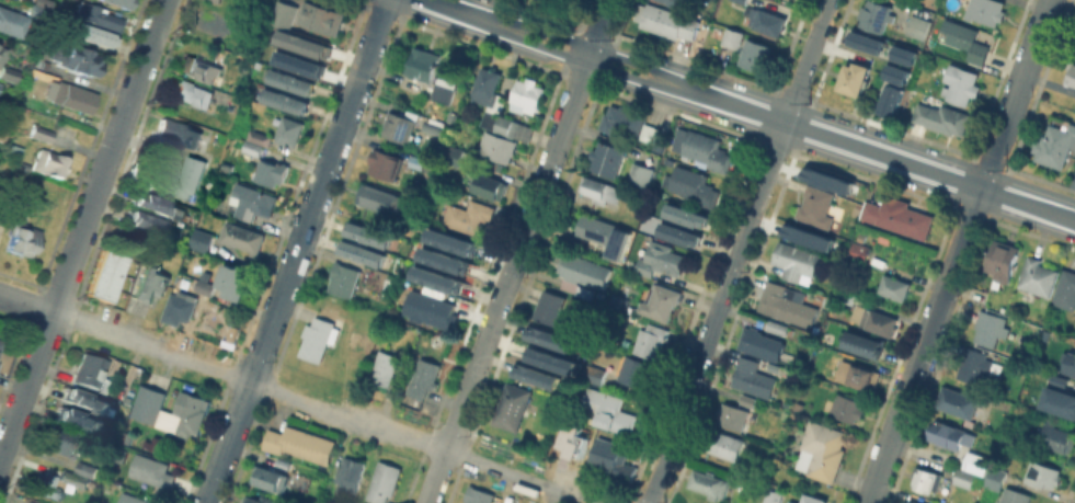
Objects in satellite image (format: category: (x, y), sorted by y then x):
building: (216, 0)
building: (219, 0)
building: (561, 0)
building: (570, 0)
building: (743, 1)
building: (123, 2)
building: (673, 2)
building: (37, 7)
building: (986, 11)
building: (285, 13)
building: (99, 15)
building: (877, 15)
building: (322, 16)
building: (767, 20)
building: (9, 21)
building: (214, 23)
building: (671, 23)
building: (918, 30)
building: (734, 36)
building: (90, 38)
building: (964, 39)
building: (865, 41)
building: (301, 43)
building: (1074, 49)
building: (755, 54)
building: (901, 54)
building: (2, 55)
building: (73, 60)
building: (298, 62)
building: (424, 64)
building: (205, 65)
building: (894, 72)
building: (9, 73)
building: (1071, 73)
building: (856, 77)
building: (289, 81)
building: (0, 83)
building: (961, 83)
building: (490, 89)
building: (193, 92)
building: (443, 92)
building: (527, 94)
building: (70, 95)
building: (283, 100)
building: (889, 100)
building: (231, 106)
road: (751, 110)
building: (942, 117)
building: (622, 119)
building: (506, 125)
building: (400, 126)
building: (433, 126)
building: (290, 130)
building: (42, 132)
building: (176, 132)
building: (260, 136)
building: (653, 136)
building: (2, 137)
building: (1055, 145)
building: (253, 146)
building: (498, 146)
building: (14, 148)
building: (702, 150)
building: (453, 153)
building: (608, 158)
building: (416, 162)
building: (49, 163)
building: (386, 163)
building: (272, 171)
building: (641, 174)
building: (178, 178)
building: (831, 178)
building: (694, 184)
building: (489, 185)
building: (601, 188)
building: (380, 198)
building: (250, 203)
building: (817, 205)
building: (156, 212)
building: (688, 213)
building: (899, 215)
building: (468, 216)
building: (148, 230)
road: (83, 231)
building: (681, 231)
building: (603, 233)
building: (369, 235)
building: (810, 236)
building: (243, 237)
building: (23, 239)
building: (202, 239)
building: (449, 240)
road: (296, 251)
road: (517, 251)
road: (735, 251)
road: (959, 251)
building: (363, 254)
building: (657, 259)
building: (443, 260)
building: (1003, 260)
building: (797, 261)
building: (581, 267)
building: (107, 274)
building: (343, 278)
building: (436, 278)
building: (1037, 278)
building: (236, 279)
building: (206, 286)
building: (895, 286)
building: (150, 288)
building: (386, 288)
building: (1065, 289)
building: (585, 290)
building: (847, 296)
building: (660, 300)
building: (786, 302)
road: (26, 304)
building: (551, 307)
building: (428, 308)
building: (339, 309)
building: (185, 310)
building: (876, 319)
building: (778, 325)
building: (990, 327)
building: (316, 336)
building: (546, 336)
building: (650, 339)
building: (359, 341)
building: (757, 341)
building: (0, 343)
building: (866, 344)
building: (548, 358)
building: (1070, 363)
building: (975, 365)
building: (386, 367)
building: (93, 371)
building: (639, 371)
building: (595, 374)
building: (858, 374)
building: (534, 375)
building: (754, 375)
building: (423, 378)
building: (1061, 397)
building: (89, 399)
building: (746, 399)
building: (958, 401)
building: (149, 402)
building: (513, 405)
building: (848, 407)
building: (609, 410)
road: (330, 413)
building: (185, 414)
building: (732, 415)
building: (82, 419)
building: (951, 435)
building: (1014, 435)
building: (1057, 437)
building: (571, 439)
building: (61, 441)
building: (300, 443)
building: (725, 444)
building: (826, 451)
building: (608, 456)
building: (977, 462)
building: (88, 468)
building: (152, 470)
building: (351, 472)
building: (1045, 473)
building: (964, 477)
building: (271, 478)
building: (996, 478)
building: (75, 479)
building: (930, 479)
building: (384, 482)
building: (710, 482)
building: (47, 484)
building: (740, 484)
building: (479, 494)
building: (774, 495)
building: (1017, 495)
building: (815, 498)
building: (133, 499)
building: (261, 500)
building: (796, 501)
building: (27, 502)
building: (31, 502)
building: (790, 502)
building: (908, 502)
building: (914, 502)

